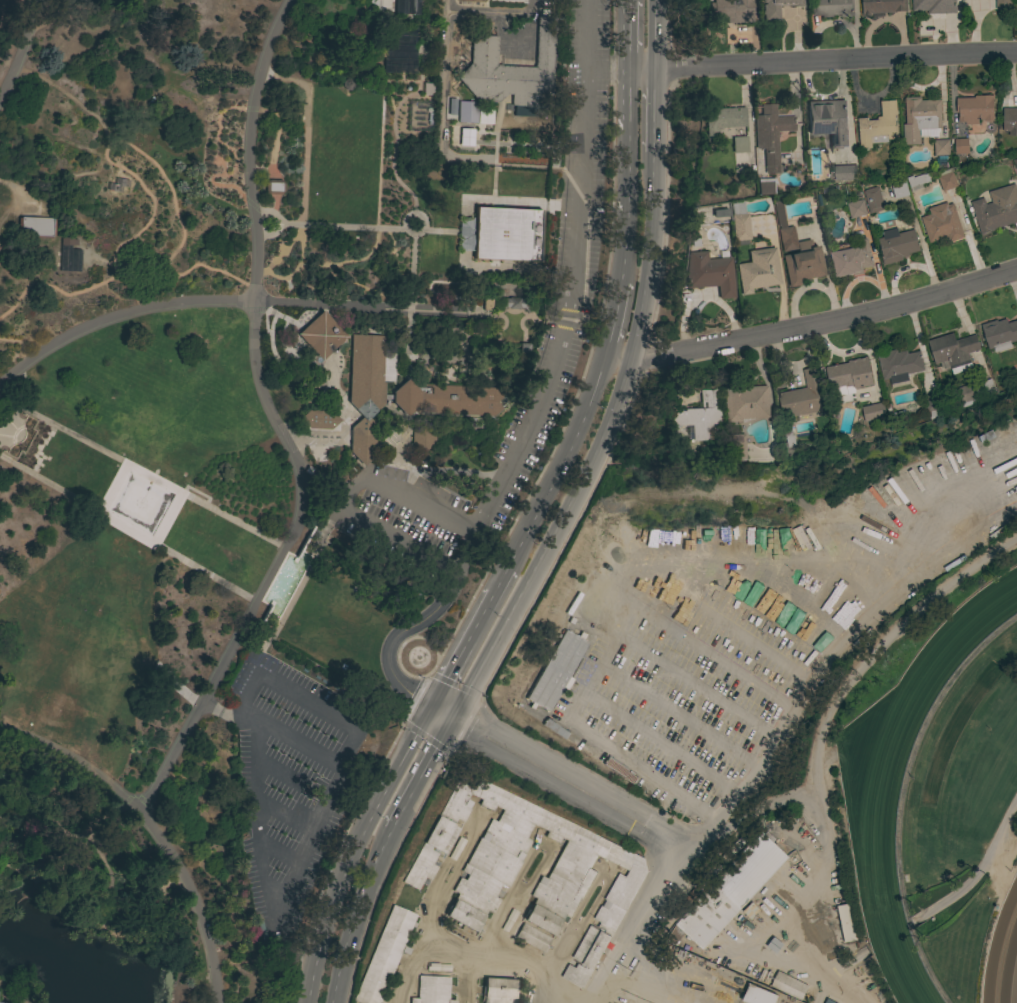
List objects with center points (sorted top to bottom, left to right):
building: (472, 0)
building: (1016, 3)
building: (1003, 4)
building: (378, 6)
building: (406, 6)
building: (883, 6)
building: (935, 6)
building: (776, 7)
building: (831, 8)
building: (731, 10)
road: (629, 34)
road: (652, 34)
road: (22, 51)
building: (399, 60)
road: (822, 61)
road: (607, 69)
building: (511, 70)
road: (445, 77)
building: (347, 82)
building: (424, 88)
road: (391, 89)
road: (413, 92)
road: (0, 97)
road: (629, 102)
road: (653, 108)
building: (975, 109)
building: (467, 112)
building: (919, 118)
building: (723, 119)
building: (828, 121)
building: (1009, 121)
building: (878, 126)
road: (306, 129)
building: (770, 134)
building: (739, 144)
building: (961, 145)
building: (941, 147)
road: (272, 153)
road: (108, 159)
road: (380, 160)
road: (222, 164)
building: (1015, 165)
building: (844, 173)
building: (917, 180)
building: (946, 180)
building: (274, 185)
building: (765, 186)
building: (899, 189)
building: (873, 200)
building: (856, 208)
building: (996, 209)
road: (627, 210)
building: (739, 221)
building: (941, 223)
building: (36, 225)
road: (279, 225)
road: (342, 225)
road: (448, 229)
road: (413, 232)
building: (506, 234)
building: (897, 245)
road: (282, 249)
building: (797, 253)
building: (68, 255)
building: (851, 257)
road: (350, 264)
road: (296, 268)
building: (758, 270)
building: (708, 273)
road: (573, 276)
road: (288, 283)
road: (132, 288)
parking lot: (572, 295)
building: (513, 302)
road: (193, 303)
building: (487, 303)
road: (278, 314)
road: (617, 318)
road: (827, 321)
road: (266, 323)
building: (999, 334)
building: (320, 335)
road: (22, 341)
building: (953, 351)
building: (1016, 363)
building: (898, 366)
building: (369, 368)
building: (848, 374)
building: (983, 387)
building: (802, 395)
building: (387, 396)
building: (404, 396)
building: (965, 396)
building: (458, 399)
building: (744, 401)
building: (932, 405)
building: (366, 407)
road: (390, 409)
building: (880, 412)
building: (700, 415)
building: (319, 418)
road: (276, 423)
park: (258, 436)
building: (787, 437)
building: (422, 438)
building: (363, 439)
road: (312, 443)
road: (35, 445)
road: (595, 446)
building: (734, 446)
road: (561, 461)
road: (143, 472)
road: (326, 481)
road: (112, 488)
road: (348, 497)
fountain: (138, 502)
road: (167, 518)
road: (128, 530)
fountain: (294, 563)
road: (497, 581)
road: (295, 591)
fountain: (275, 604)
road: (706, 614)
road: (624, 618)
road: (416, 625)
road: (460, 649)
building: (556, 671)
road: (695, 683)
road: (251, 691)
road: (678, 711)
building: (554, 729)
road: (820, 730)
road: (661, 740)
road: (278, 770)
road: (366, 770)
building: (618, 770)
track: (884, 770)
road: (420, 773)
road: (560, 779)
parking lot: (289, 781)
road: (286, 815)
road: (320, 816)
road: (58, 820)
road: (257, 821)
road: (155, 828)
road: (353, 848)
building: (456, 848)
road: (109, 862)
building: (484, 881)
building: (731, 890)
road: (83, 891)
road: (350, 912)
building: (508, 919)
building: (846, 922)
road: (124, 936)
building: (532, 937)
road: (642, 937)
road: (473, 950)
track: (1002, 950)
building: (385, 956)
building: (438, 967)
road: (666, 985)
building: (788, 986)
building: (432, 990)
building: (498, 991)
building: (757, 995)
building: (829, 1001)
building: (2, 1002)
road: (549, 1002)

